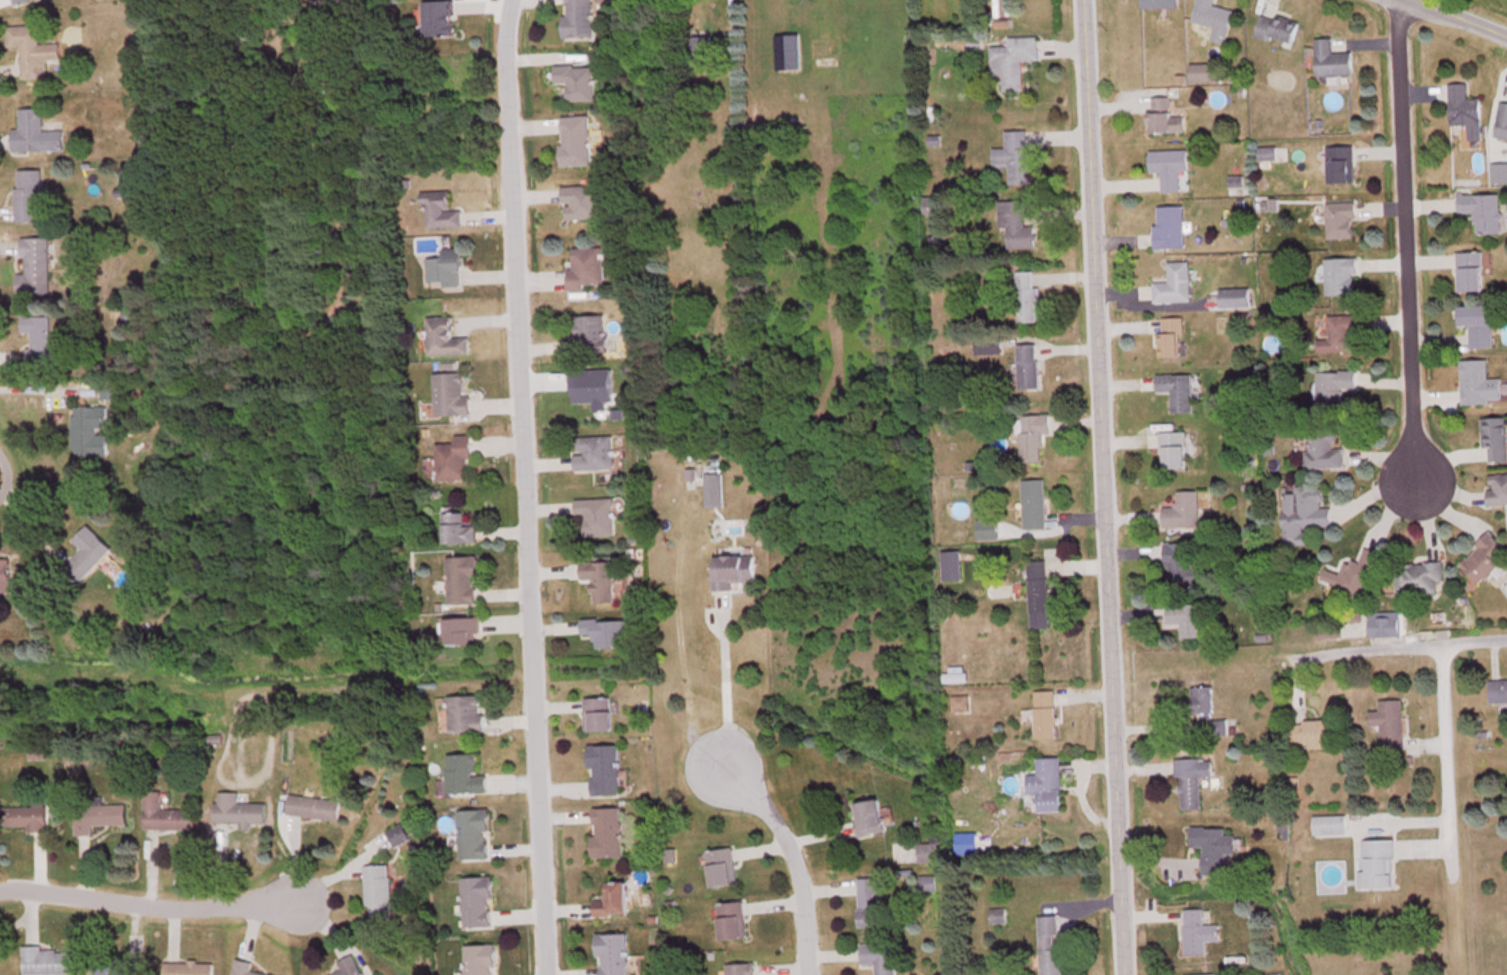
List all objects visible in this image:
building: (22, 2)
building: (334, 3)
building: (1161, 5)
road: (1455, 18)
building: (580, 20)
building: (441, 21)
building: (1215, 21)
road: (1504, 28)
building: (1277, 31)
building: (33, 53)
building: (703, 53)
building: (789, 55)
building: (1334, 63)
building: (1014, 64)
building: (321, 68)
building: (1206, 75)
building: (579, 84)
building: (1468, 113)
building: (1167, 120)
building: (1503, 125)
building: (36, 137)
building: (578, 143)
building: (1017, 159)
building: (1343, 167)
building: (1171, 170)
building: (30, 198)
building: (583, 204)
building: (933, 208)
building: (442, 214)
building: (1484, 214)
building: (1342, 223)
building: (1017, 227)
building: (1171, 230)
road: (1404, 240)
building: (588, 268)
building: (36, 270)
building: (449, 271)
building: (1472, 274)
building: (1342, 278)
building: (1176, 287)
building: (1028, 299)
building: (1237, 300)
building: (132, 318)
building: (1481, 327)
building: (1343, 332)
building: (591, 336)
building: (41, 340)
building: (1172, 340)
building: (447, 341)
building: (1030, 368)
building: (1481, 386)
building: (1339, 389)
building: (1183, 396)
building: (453, 397)
building: (91, 435)
building: (1035, 439)
building: (1496, 440)
building: (1325, 452)
building: (1175, 453)
building: (596, 456)
building: (456, 463)
road: (522, 487)
road: (1100, 487)
building: (1498, 492)
building: (716, 493)
building: (1036, 506)
building: (1185, 514)
building: (1306, 517)
building: (599, 519)
building: (460, 532)
building: (92, 555)
building: (1486, 562)
building: (1184, 564)
building: (954, 569)
building: (736, 574)
building: (1354, 578)
building: (6, 580)
building: (1420, 581)
building: (603, 583)
building: (464, 584)
building: (1041, 597)
building: (1189, 622)
building: (1354, 628)
building: (466, 634)
building: (608, 635)
road: (1401, 647)
building: (1499, 693)
building: (1206, 705)
building: (962, 707)
building: (468, 718)
building: (601, 718)
building: (1048, 718)
building: (1392, 727)
building: (1316, 737)
road: (1447, 766)
building: (606, 773)
building: (466, 778)
building: (1194, 785)
building: (1050, 787)
building: (316, 810)
building: (239, 814)
building: (168, 818)
building: (29, 820)
building: (100, 820)
building: (872, 821)
building: (1332, 829)
building: (609, 836)
building: (476, 838)
building: (1215, 852)
road: (790, 860)
building: (1379, 867)
building: (724, 871)
building: (929, 887)
building: (380, 897)
building: (615, 903)
building: (479, 905)
road: (147, 906)
building: (870, 906)
building: (999, 919)
building: (734, 924)
building: (1200, 936)
building: (1051, 948)
building: (614, 955)
building: (881, 959)
building: (482, 961)
building: (48, 962)
building: (118, 968)
building: (350, 968)
building: (190, 969)
building: (244, 969)
building: (742, 971)

